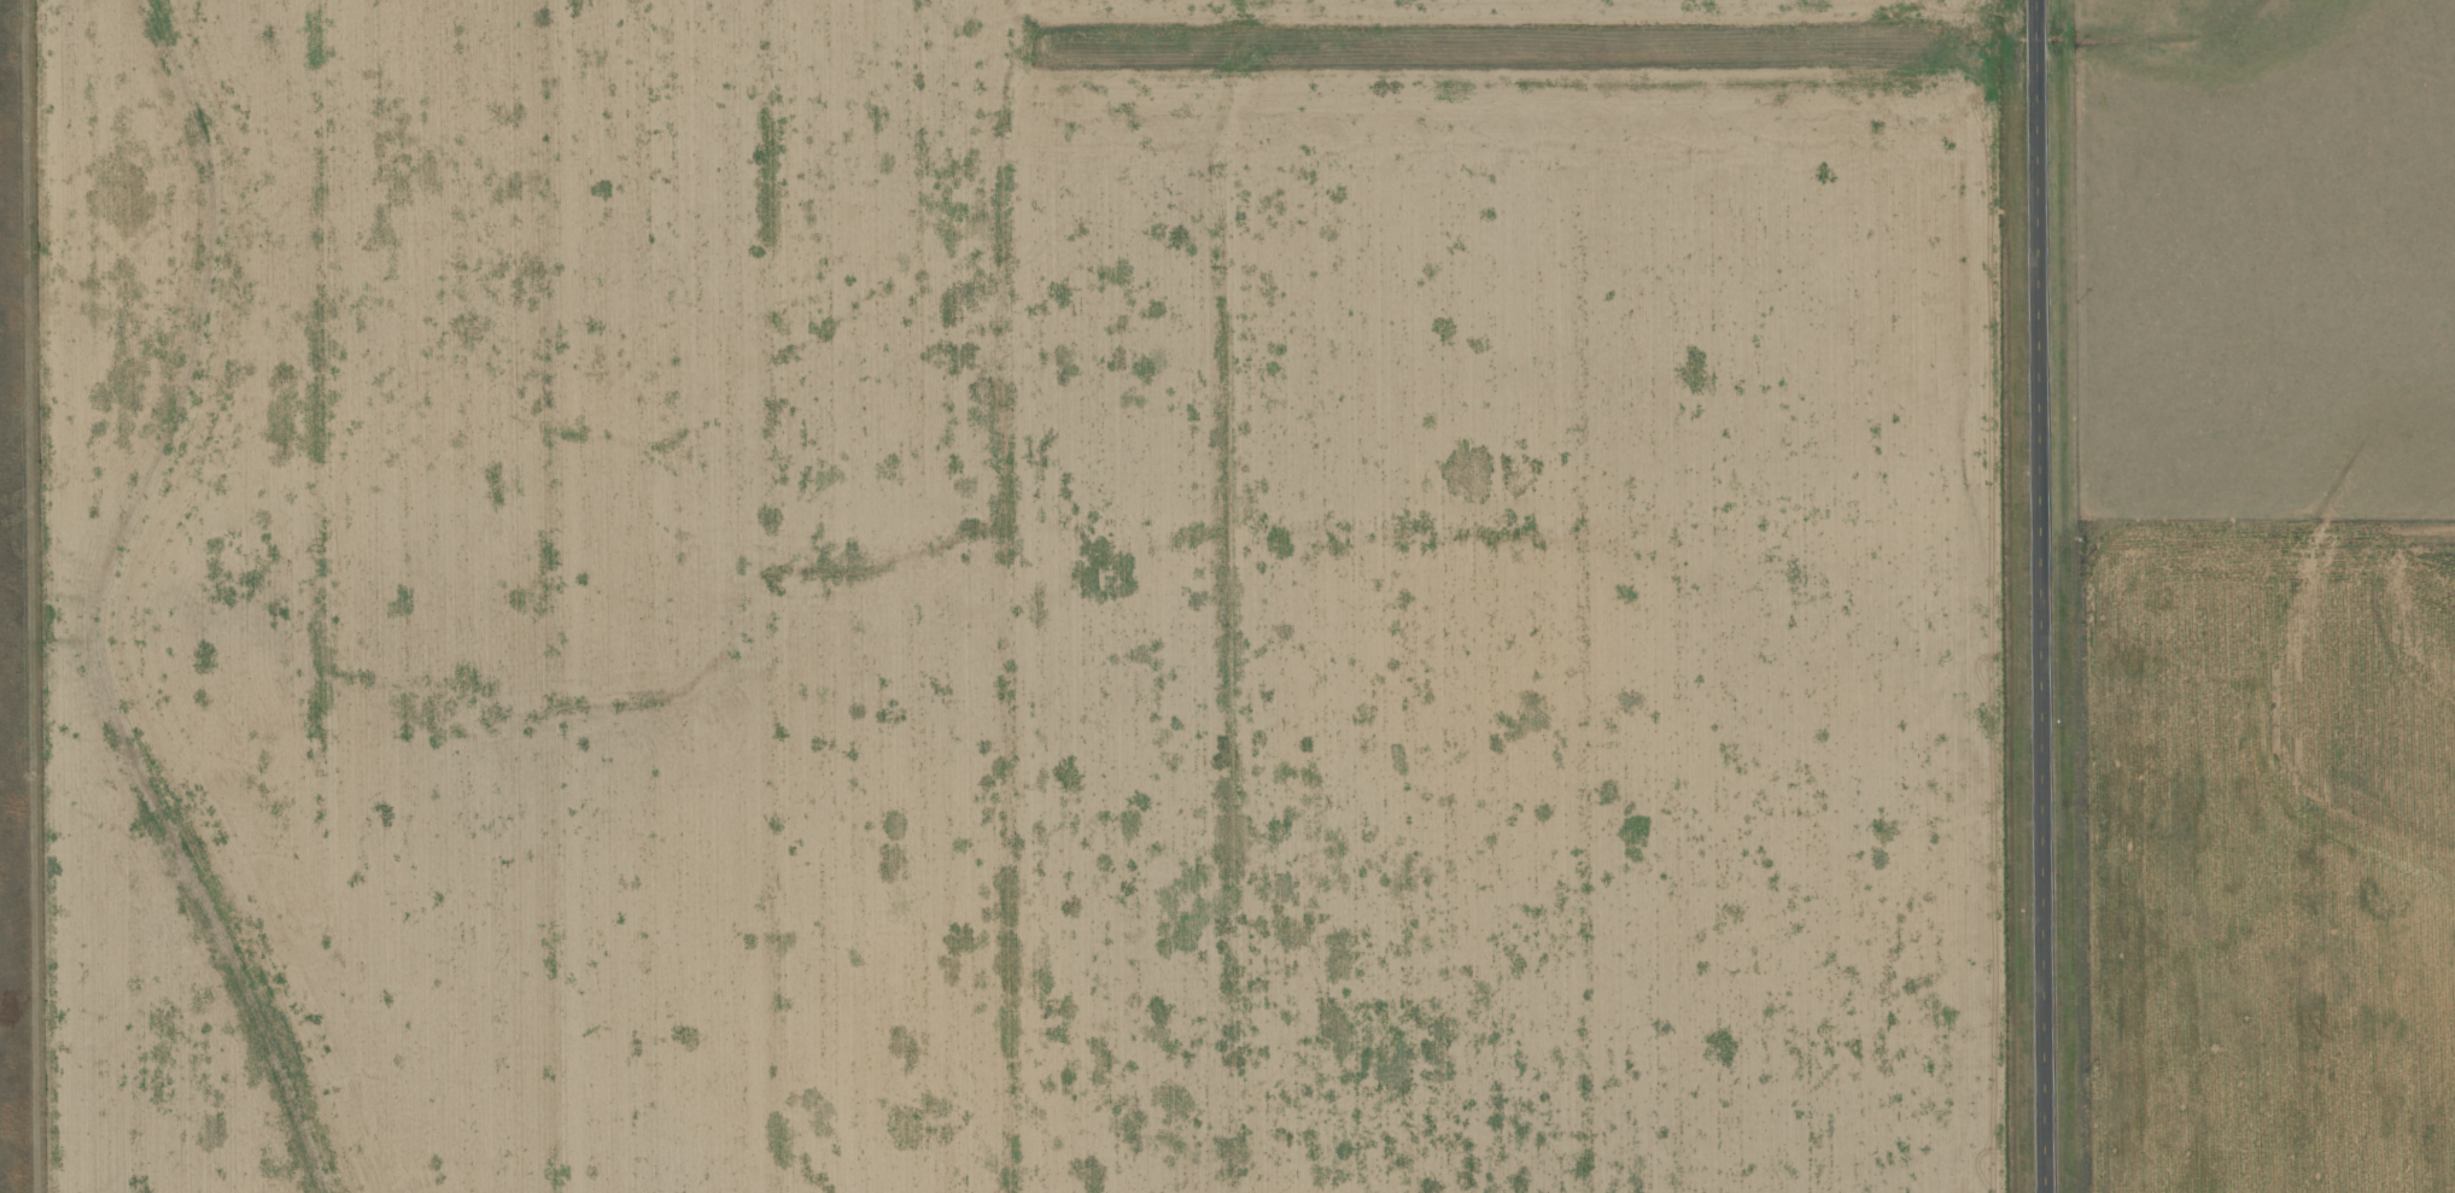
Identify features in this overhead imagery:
road: (2042, 596)

